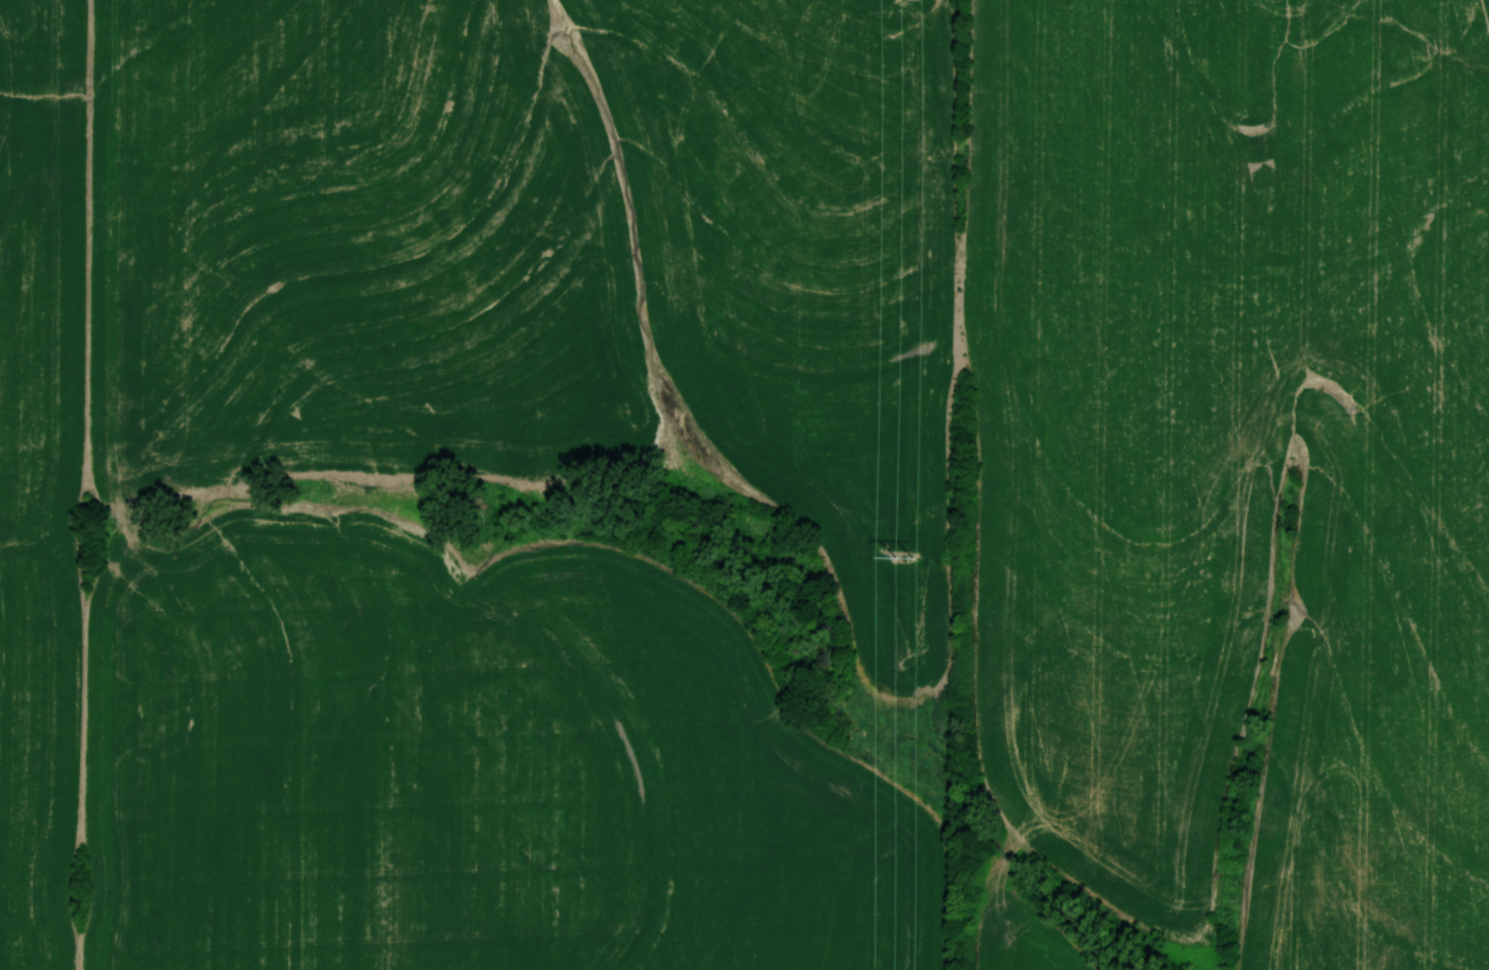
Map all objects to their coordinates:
power tower: (909, 562)

